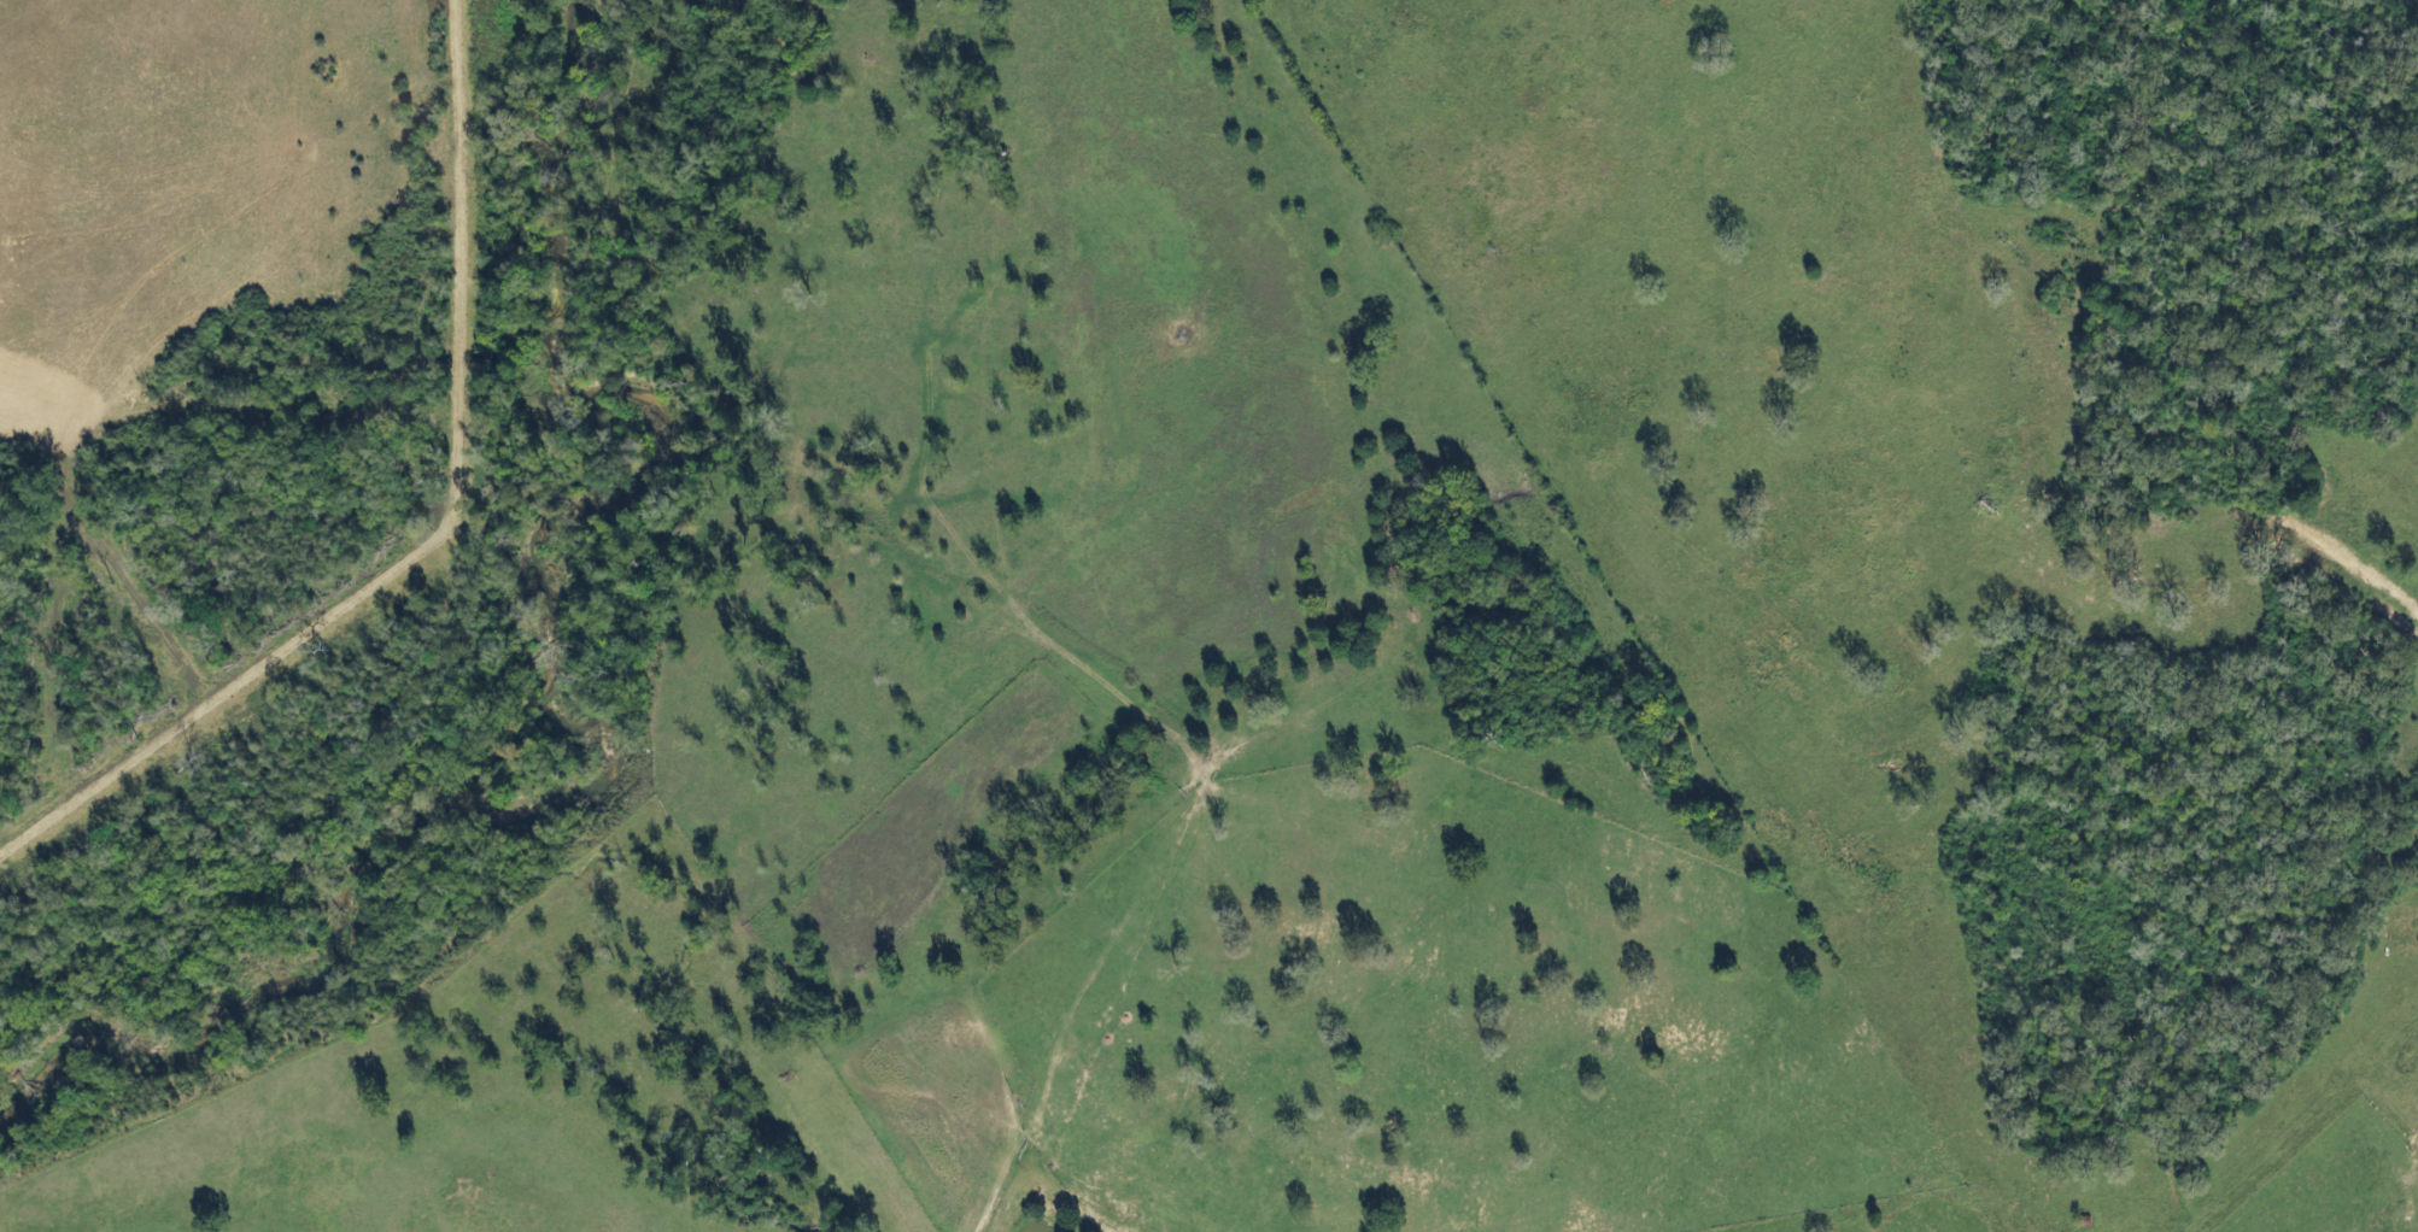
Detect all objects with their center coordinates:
river: (609, 769)

